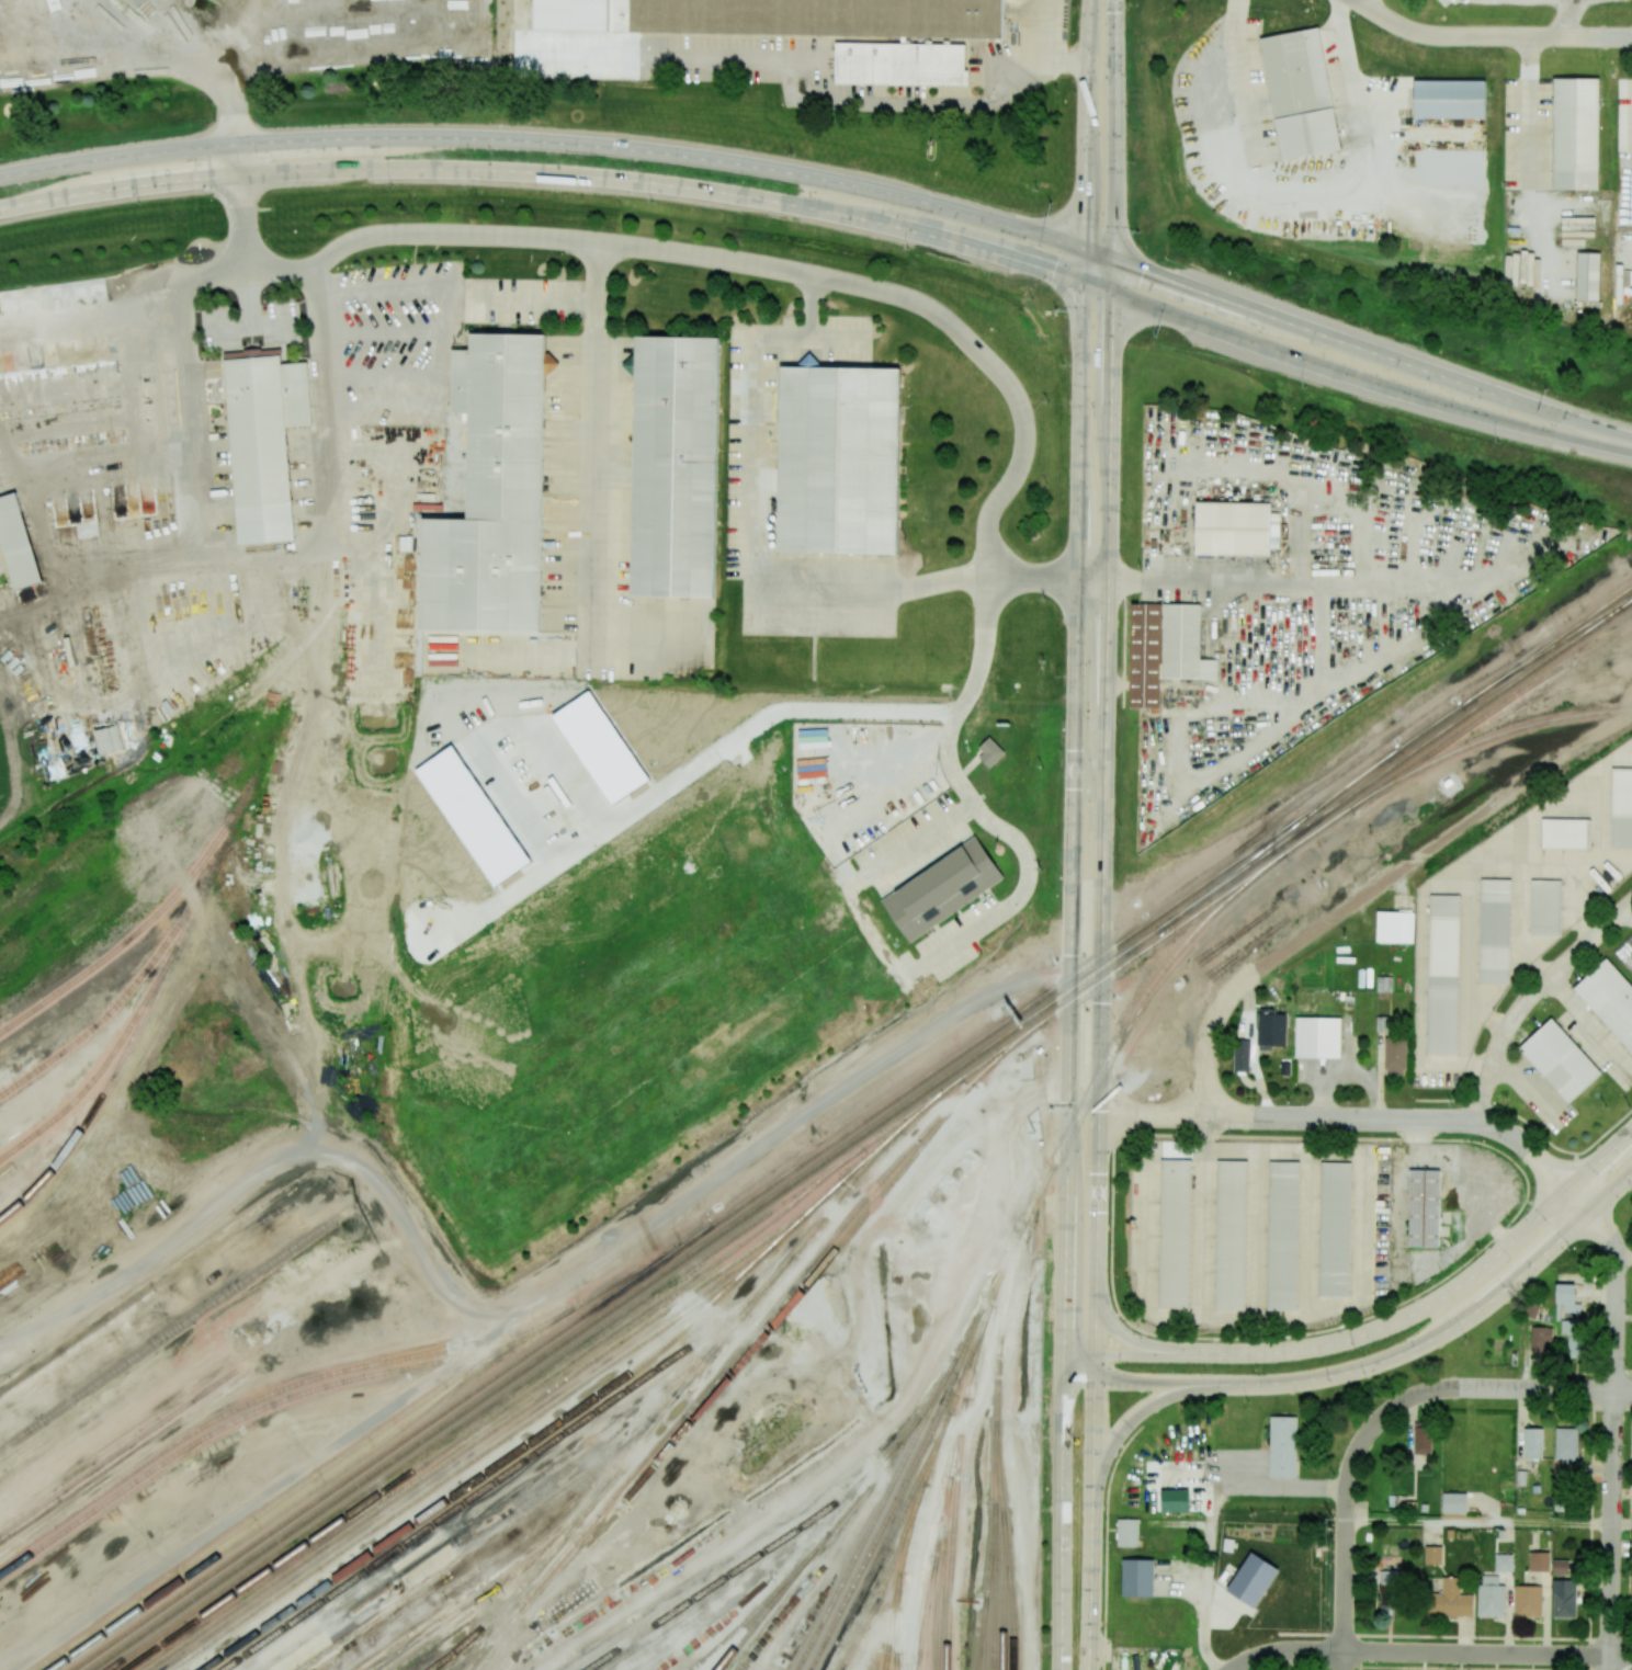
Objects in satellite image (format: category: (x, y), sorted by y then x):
building: (573, 15)
building: (939, 19)
road: (229, 36)
road: (1488, 37)
road: (1058, 43)
road: (146, 53)
road: (782, 59)
building: (902, 65)
road: (1240, 76)
building: (1300, 94)
building: (1450, 99)
road: (1087, 123)
road: (1118, 129)
building: (1577, 135)
road: (787, 172)
road: (656, 183)
traffic signals: (1085, 249)
traffic signals: (1117, 261)
building: (1587, 276)
traffic signals: (1085, 282)
traffic signals: (1115, 293)
road: (536, 299)
road: (250, 300)
road: (812, 307)
road: (252, 327)
road: (1008, 387)
road: (1459, 410)
road: (1587, 424)
building: (259, 446)
building: (839, 456)
building: (676, 464)
building: (494, 497)
road: (593, 513)
road: (751, 520)
building: (1234, 527)
building: (18, 542)
road: (241, 559)
building: (0, 573)
road: (1160, 580)
railway: (331, 606)
railway: (1545, 646)
building: (1164, 649)
railway: (1545, 650)
railway: (1493, 707)
railway: (276, 718)
railway: (1431, 726)
road: (499, 731)
railway: (1488, 737)
building: (107, 739)
building: (989, 753)
railway: (1393, 765)
road: (689, 772)
railway: (159, 783)
building: (1621, 808)
railway: (1315, 831)
railway: (228, 832)
building: (1565, 833)
railway: (1278, 838)
road: (1426, 887)
building: (942, 888)
road: (1340, 907)
building: (1546, 907)
road: (1625, 919)
railway: (188, 920)
railway: (144, 927)
building: (1394, 927)
building: (1495, 929)
road: (1072, 959)
road: (1103, 965)
building: (1443, 973)
building: (1384, 984)
building: (1609, 997)
road: (1529, 998)
railway: (117, 1001)
building: (1382, 1023)
road: (1590, 1025)
building: (1268, 1026)
building: (1319, 1035)
railway: (1117, 1037)
railway: (1004, 1052)
building: (1242, 1055)
building: (1394, 1056)
building: (1560, 1059)
railway: (98, 1071)
railway: (99, 1101)
railway: (930, 1103)
road: (1503, 1110)
road: (1348, 1120)
road: (1253, 1137)
railway: (871, 1155)
railway: (834, 1202)
railway: (738, 1207)
building: (1425, 1207)
building: (1335, 1227)
building: (1176, 1232)
building: (1233, 1232)
building: (1285, 1232)
road: (1624, 1258)
railway: (642, 1265)
railway: (691, 1265)
railway: (993, 1283)
railway: (155, 1285)
railway: (994, 1287)
railway: (800, 1294)
road: (1408, 1300)
railway: (623, 1303)
railway: (745, 1309)
railway: (1002, 1310)
building: (1531, 1310)
road: (1285, 1316)
road: (1115, 1318)
building: (1571, 1319)
railway: (172, 1330)
road: (1380, 1330)
road: (1119, 1331)
building: (1541, 1340)
railway: (740, 1344)
road: (1380, 1365)
railway: (700, 1366)
railway: (940, 1384)
railway: (959, 1386)
road: (1529, 1390)
railway: (270, 1404)
road: (1611, 1409)
railway: (496, 1413)
road: (1132, 1419)
railway: (208, 1421)
road: (1613, 1422)
railway: (494, 1428)
railway: (642, 1436)
building: (1421, 1440)
railway: (533, 1441)
building: (1532, 1443)
building: (1565, 1444)
road: (1118, 1445)
building: (1283, 1446)
railway: (118, 1451)
railway: (472, 1459)
railway: (925, 1474)
railway: (503, 1475)
railway: (90, 1481)
railway: (313, 1488)
railway: (998, 1488)
railway: (994, 1489)
railway: (896, 1495)
railway: (954, 1497)
building: (1174, 1500)
building: (1453, 1503)
railway: (269, 1506)
railway: (847, 1508)
railway: (494, 1509)
railway: (579, 1511)
road: (1347, 1513)
road: (1209, 1518)
road: (1480, 1523)
railway: (870, 1525)
road: (1622, 1525)
road: (1589, 1531)
building: (1127, 1533)
railway: (492, 1535)
road: (1628, 1538)
road: (1104, 1543)
railway: (942, 1544)
railway: (904, 1547)
building: (1432, 1555)
railway: (877, 1557)
building: (1538, 1561)
building: (1503, 1563)
railway: (747, 1564)
building: (1560, 1567)
railway: (987, 1576)
building: (1137, 1579)
building: (1253, 1579)
railway: (930, 1581)
railway: (486, 1582)
railway: (880, 1587)
building: (1387, 1590)
building: (1491, 1597)
building: (1563, 1599)
building: (1450, 1600)
railway: (1002, 1601)
railway: (1010, 1601)
building: (1527, 1601)
railway: (991, 1602)
railway: (498, 1609)
railway: (477, 1610)
railway: (758, 1618)
railway: (744, 1621)
railway: (928, 1624)
railway: (889, 1628)
railway: (894, 1632)
road: (1335, 1634)
road: (1494, 1637)
railway: (489, 1640)
railway: (484, 1641)
railway: (978, 1644)
railway: (982, 1645)
road: (1432, 1652)
railway: (883, 1667)
railway: (883, 1667)
road: (1428, 1668)

